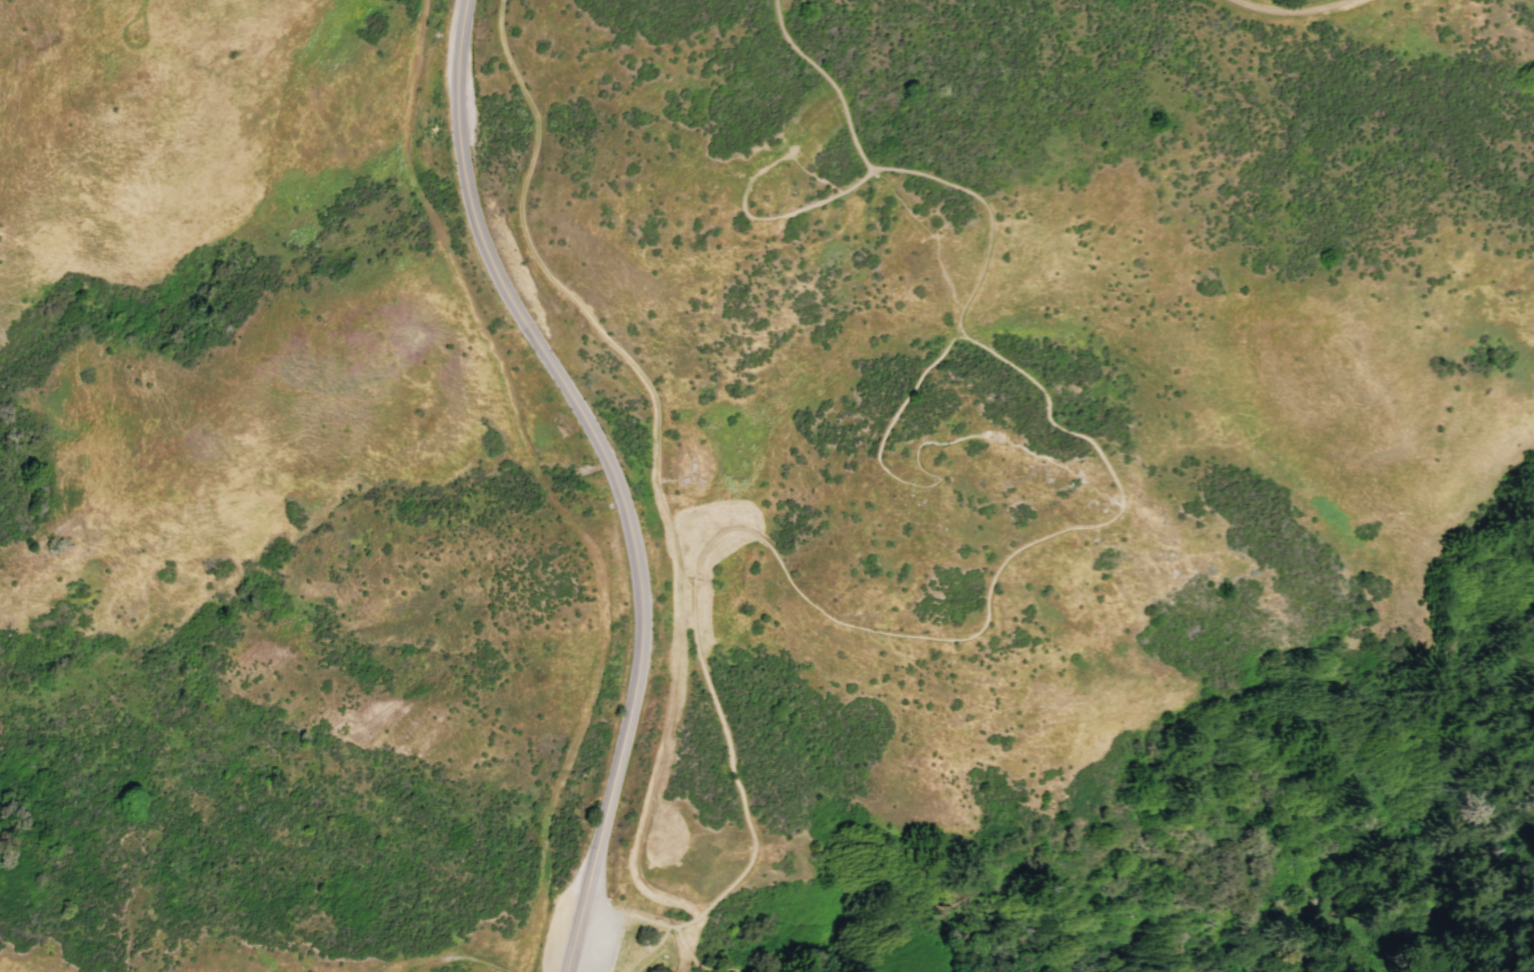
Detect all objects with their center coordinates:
road: (1292, 15)
road: (825, 79)
road: (987, 214)
road: (768, 218)
road: (573, 297)
road: (610, 474)
road: (890, 474)
road: (543, 485)
road: (985, 589)
road: (734, 768)
road: (603, 907)
road: (650, 920)
parking lot: (614, 943)
road: (693, 956)
road: (455, 957)
road: (687, 963)

